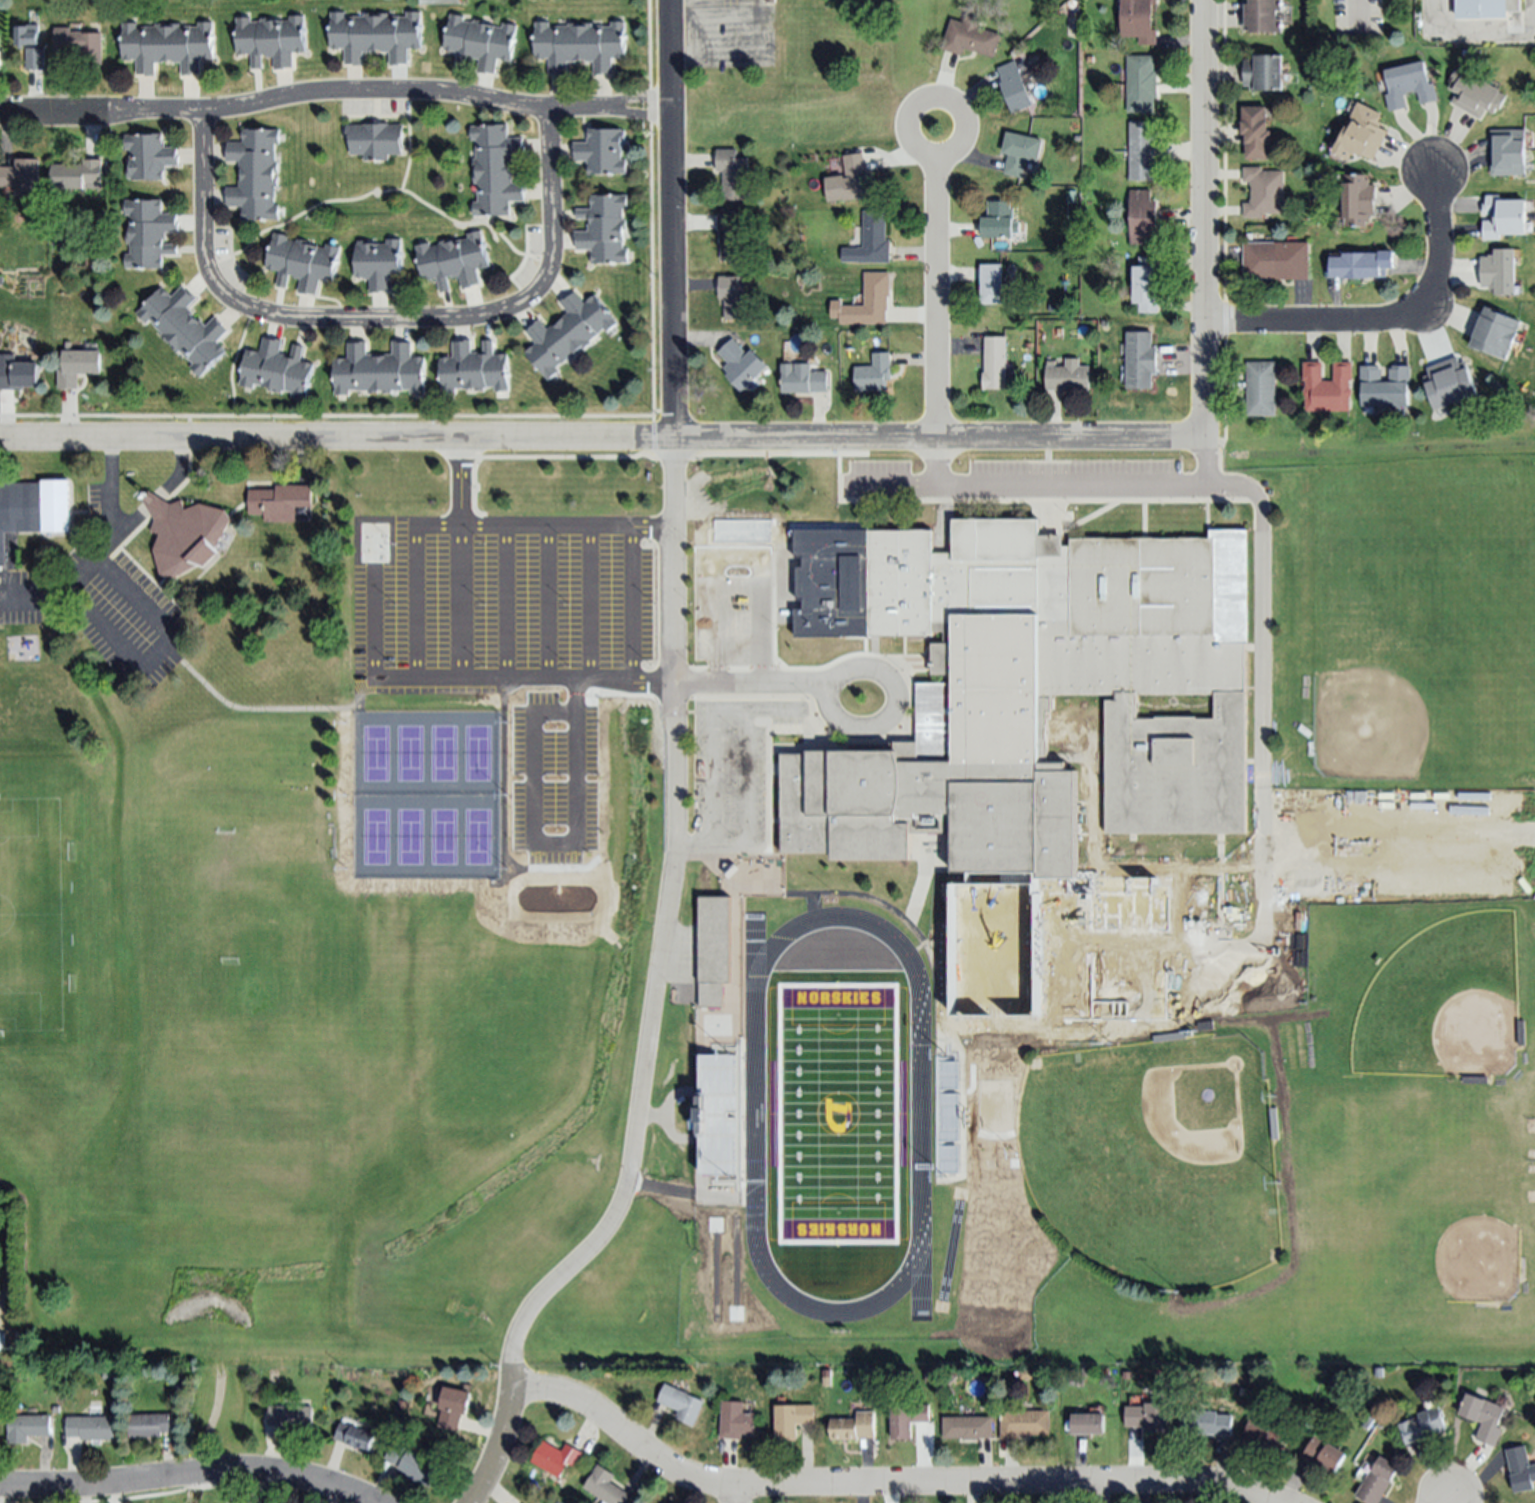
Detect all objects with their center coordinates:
building: (826, 0)
building: (443, 2)
building: (1512, 7)
building: (1479, 10)
building: (1263, 15)
road: (1356, 19)
building: (1138, 20)
road: (1471, 26)
building: (29, 35)
building: (376, 35)
building: (970, 37)
building: (271, 40)
building: (481, 42)
building: (80, 44)
building: (580, 44)
building: (168, 46)
building: (0, 57)
building: (35, 58)
building: (1263, 72)
building: (1141, 84)
building: (1408, 85)
building: (1014, 87)
road: (334, 92)
building: (1474, 94)
road: (960, 114)
building: (1256, 132)
building: (1361, 134)
building: (376, 139)
building: (1019, 150)
building: (1143, 150)
building: (602, 152)
building: (1507, 153)
building: (149, 156)
building: (496, 170)
building: (255, 173)
building: (77, 175)
building: (733, 175)
building: (22, 177)
building: (852, 180)
building: (1263, 191)
building: (1357, 200)
building: (1143, 217)
building: (1502, 217)
road: (671, 220)
building: (999, 221)
building: (604, 228)
building: (149, 233)
road: (1204, 233)
building: (731, 236)
building: (870, 240)
building: (453, 259)
building: (1275, 260)
building: (303, 262)
building: (378, 263)
building: (1355, 265)
building: (1498, 271)
building: (1, 280)
building: (992, 284)
building: (1147, 284)
building: (732, 295)
road: (936, 300)
building: (867, 302)
road: (381, 318)
road: (1391, 321)
building: (185, 328)
building: (1496, 332)
building: (567, 333)
building: (1139, 358)
building: (995, 363)
building: (742, 364)
building: (77, 366)
building: (474, 368)
building: (276, 369)
building: (378, 370)
building: (18, 373)
building: (874, 374)
building: (1067, 375)
building: (803, 378)
building: (1449, 383)
building: (1328, 386)
building: (1385, 386)
building: (1261, 388)
road: (769, 440)
road: (937, 465)
road: (1206, 477)
parking lot: (1016, 483)
road: (458, 486)
road: (109, 488)
road: (1015, 489)
street lamp: (473, 490)
building: (277, 504)
building: (34, 511)
flagpole: (1067, 519)
road: (640, 532)
building: (182, 537)
road: (110, 543)
street lamp: (645, 543)
street lamp: (690, 544)
street lamp: (779, 544)
street lamp: (393, 546)
street lamp: (483, 546)
street lamp: (566, 546)
road: (825, 562)
street lamp: (85, 584)
parking lot: (100, 599)
street lamp: (779, 606)
road: (372, 607)
street lamp: (393, 607)
street lamp: (482, 607)
street lamp: (567, 607)
parking lot: (577, 607)
street lamp: (652, 607)
street lamp: (687, 607)
road: (758, 607)
road: (503, 608)
road: (545, 608)
road: (587, 608)
road: (630, 608)
road: (716, 608)
road: (413, 610)
street lamp: (837, 617)
street lamp: (147, 647)
road: (157, 652)
street lamp: (566, 668)
street lamp: (649, 668)
street lamp: (391, 669)
street lamp: (483, 670)
street lamp: (690, 670)
street lamp: (779, 670)
street lamp: (901, 674)
park: (1410, 675)
road: (743, 683)
road: (486, 684)
road: (1259, 698)
street lamp: (805, 702)
building: (1039, 702)
road: (252, 711)
road: (774, 714)
road: (747, 715)
road: (890, 718)
street lamp: (735, 733)
park: (374, 756)
park: (408, 756)
park: (442, 756)
park: (477, 757)
parking lot: (732, 776)
street lamp: (735, 788)
park: (374, 840)
park: (408, 840)
park: (442, 840)
park: (476, 840)
street lamp: (732, 840)
road: (691, 850)
building: (708, 872)
road: (850, 896)
road: (660, 937)
building: (711, 949)
street lamp: (1200, 968)
road: (936, 984)
park: (1441, 1005)
building: (1522, 1032)
road: (734, 1033)
building: (1185, 1034)
building: (1476, 1079)
park: (837, 1117)
building: (716, 1118)
building: (947, 1121)
building: (1276, 1123)
park: (1153, 1162)
park: (1441, 1229)
road: (10, 1260)
road: (908, 1270)
road: (918, 1276)
park: (10, 1283)
park: (1027, 1298)
building: (1, 1342)
building: (950, 1377)
building: (826, 1381)
building: (1242, 1392)
building: (681, 1403)
building: (454, 1407)
building: (291, 1417)
building: (1147, 1417)
building: (1484, 1417)
building: (792, 1419)
building: (906, 1420)
building: (736, 1421)
building: (1367, 1421)
building: (1023, 1423)
building: (1205, 1423)
building: (1087, 1424)
building: (149, 1425)
building: (1422, 1426)
building: (26, 1427)
building: (853, 1427)
building: (966, 1427)
building: (90, 1428)
building: (355, 1437)
building: (1267, 1437)
road: (500, 1448)
building: (1324, 1454)
building: (555, 1458)
building: (412, 1464)
building: (1520, 1469)
road: (186, 1474)
building: (1377, 1481)
road: (886, 1484)
road: (233, 1486)
park: (203, 1487)
building: (605, 1487)
road: (197, 1489)
road: (735, 1494)
road: (1441, 1500)
building: (558, 1502)

